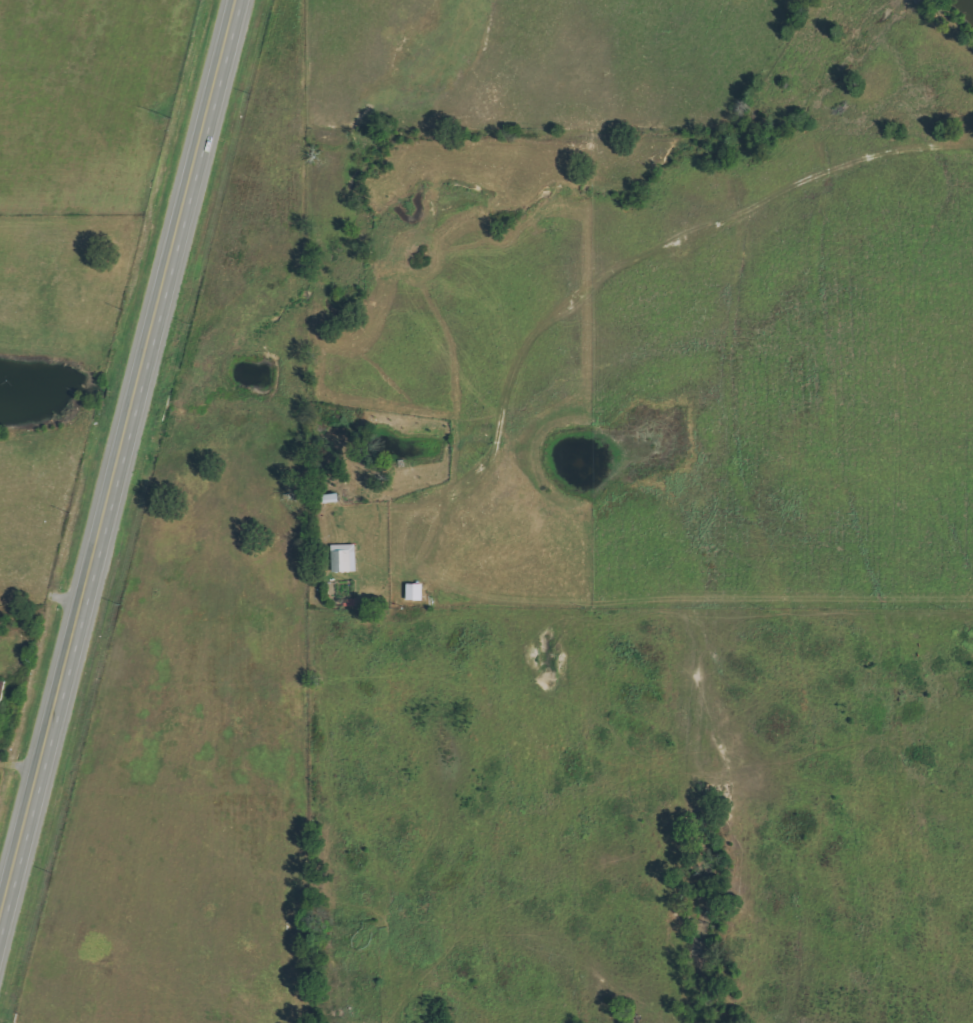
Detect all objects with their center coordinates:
road: (657, 256)
road: (120, 463)
building: (345, 558)
road: (412, 581)
building: (417, 592)

